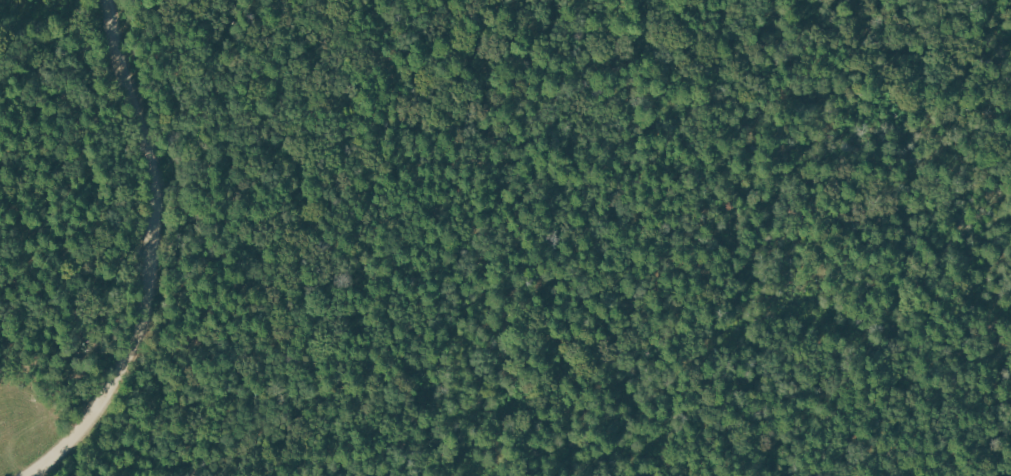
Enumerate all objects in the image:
road: (755, 165)
road: (148, 257)

